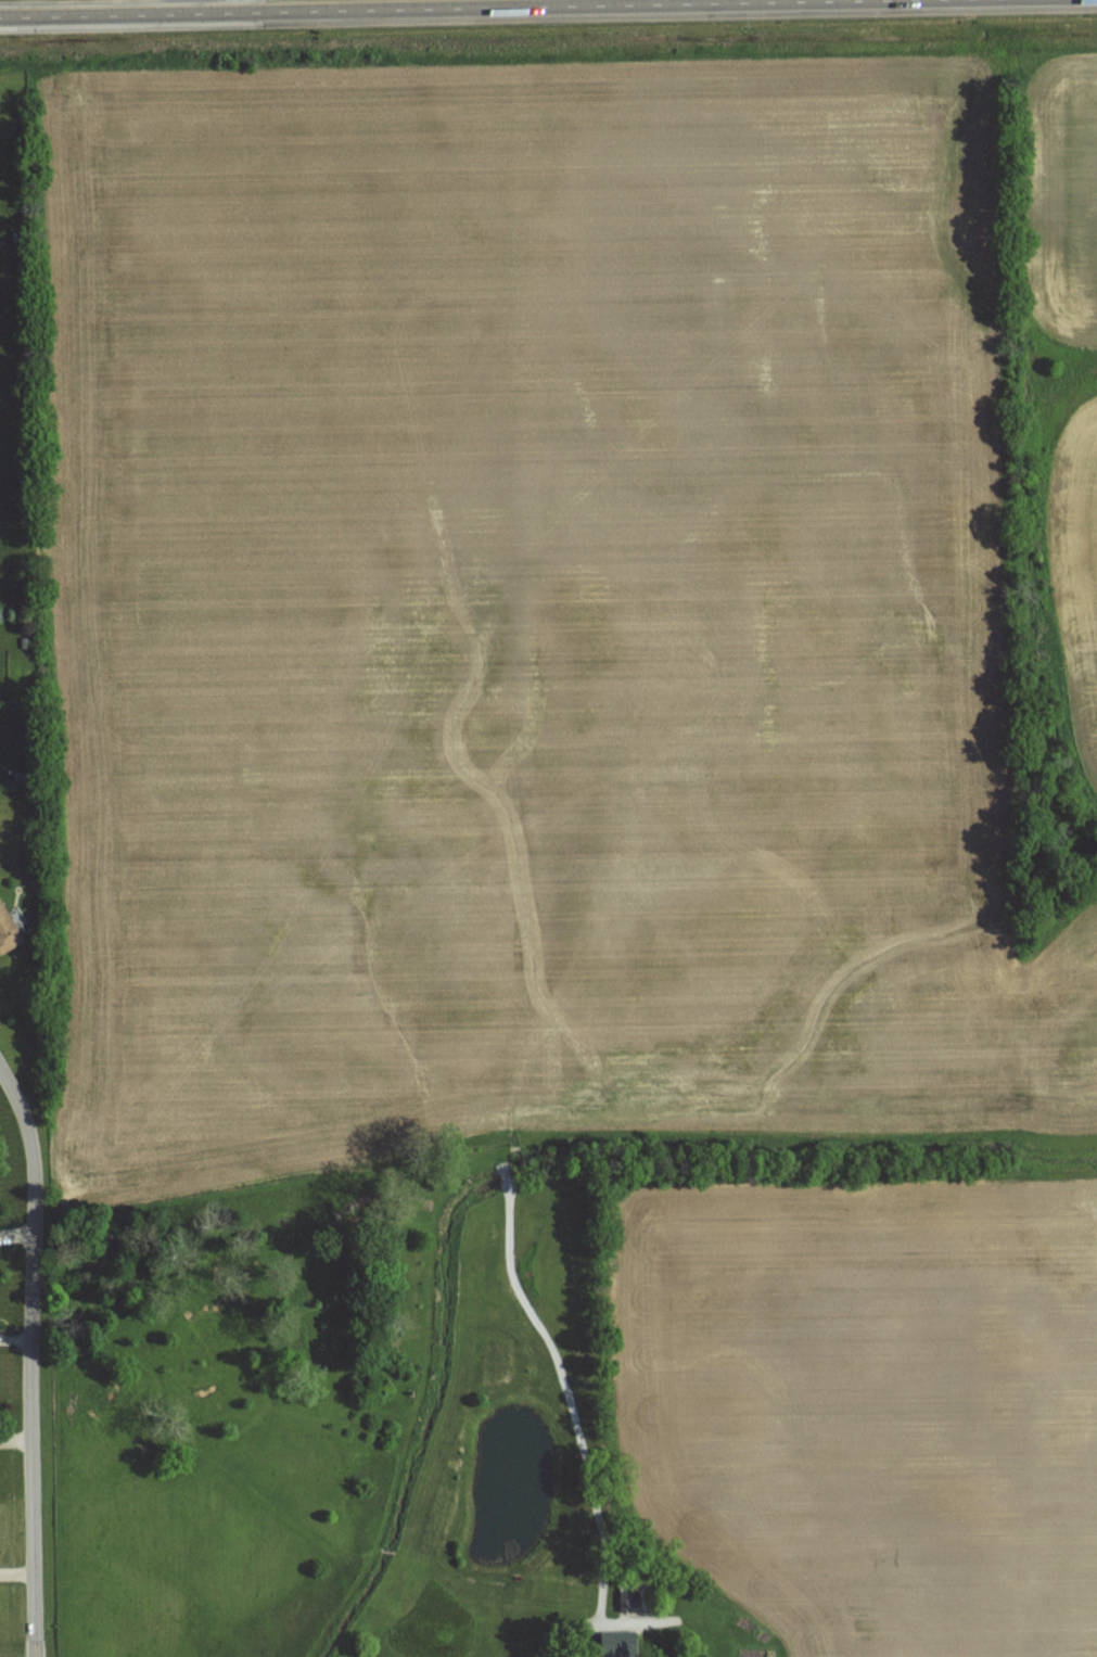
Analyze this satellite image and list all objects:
road: (240, 5)
road: (431, 8)
building: (21, 406)
building: (24, 641)
building: (21, 778)
building: (34, 884)
building: (9, 926)
road: (30, 1359)
road: (570, 1407)
building: (633, 1599)
building: (618, 1643)

